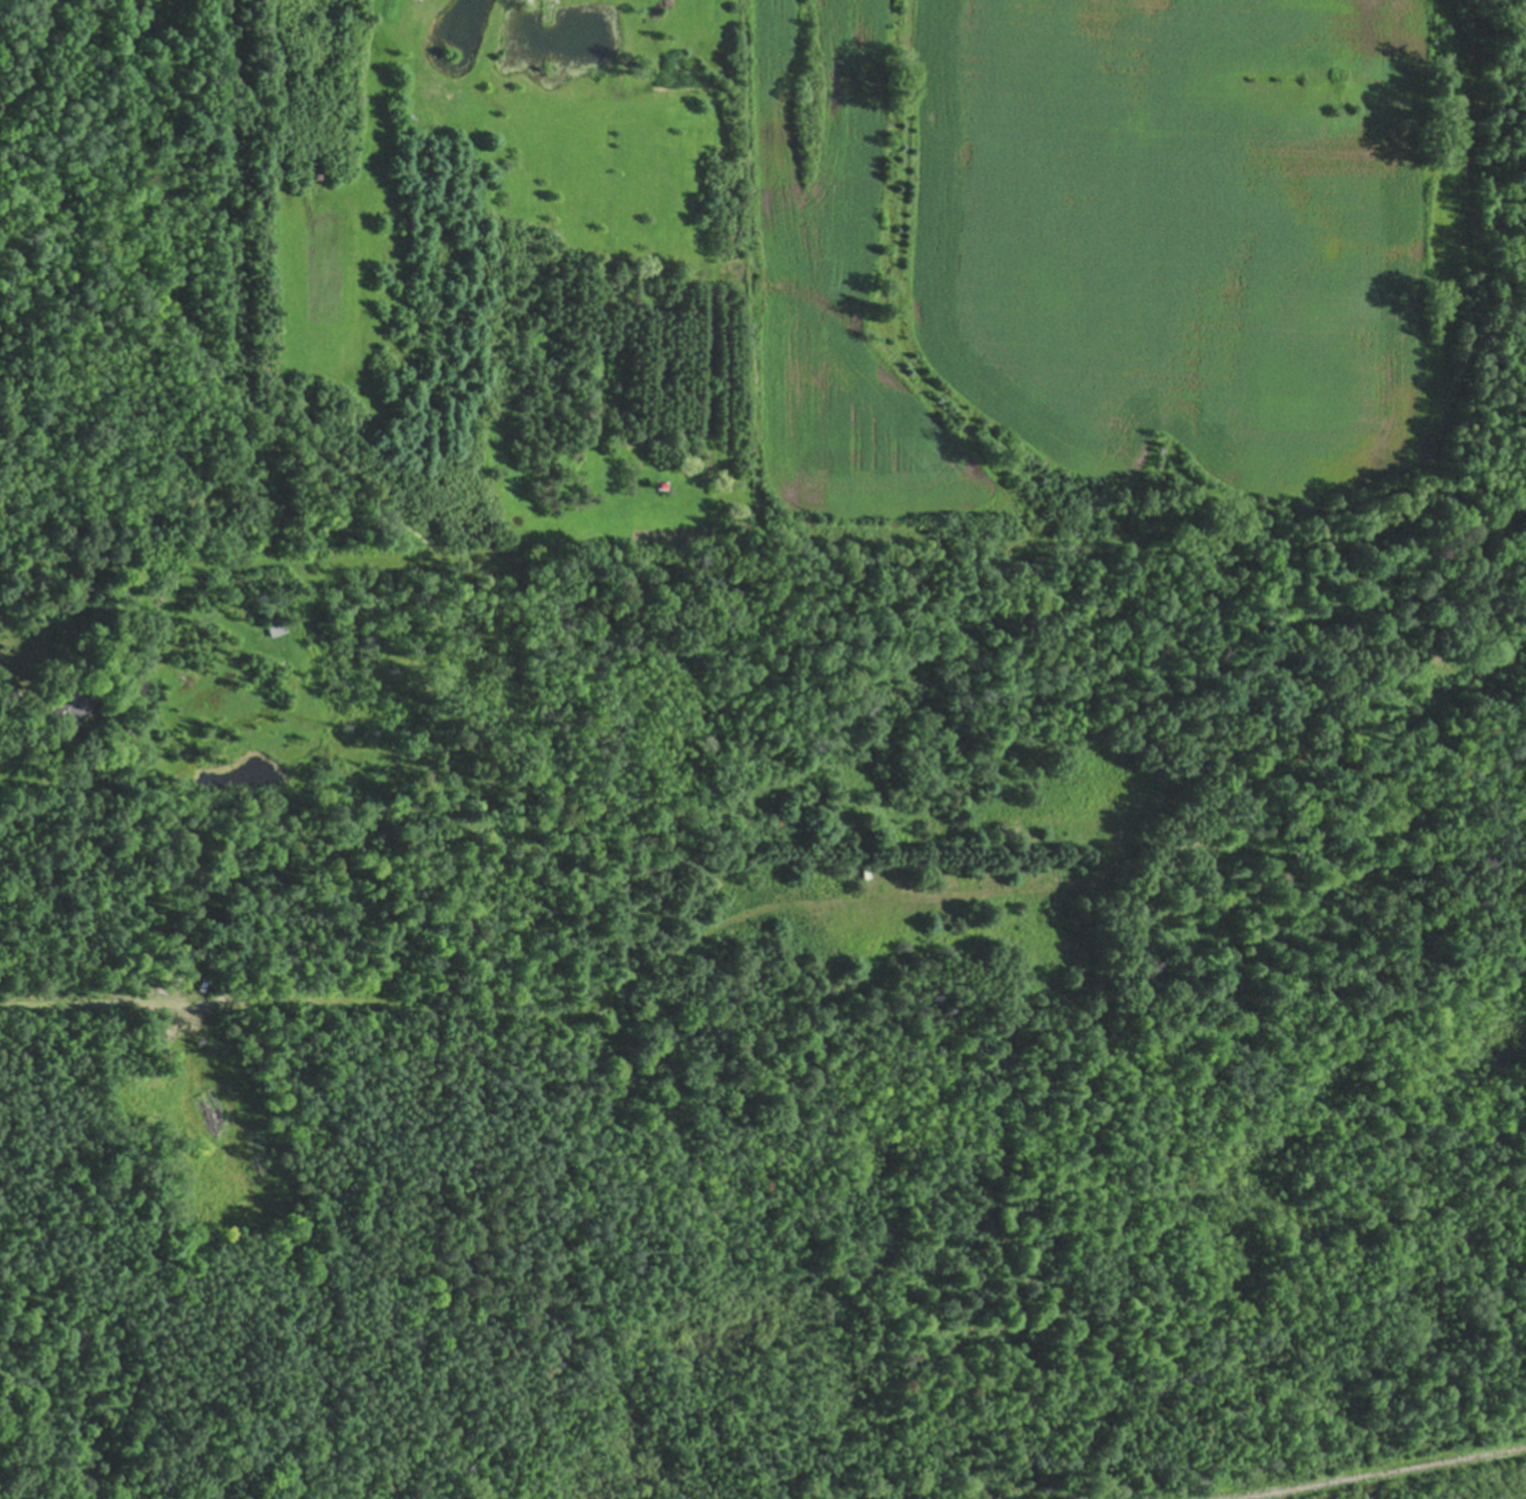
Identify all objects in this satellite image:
building: (276, 626)
building: (67, 704)
building: (201, 982)
railway: (1381, 1473)

